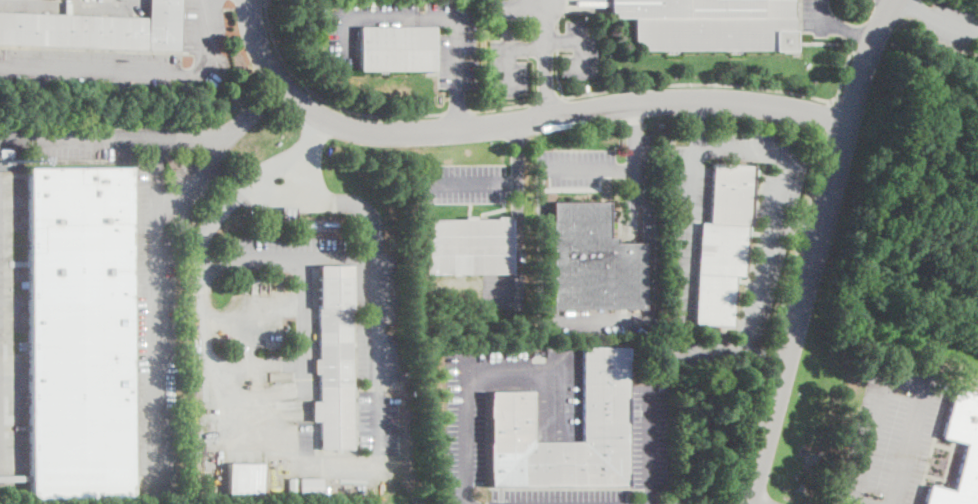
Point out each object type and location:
road: (97, 1)
road: (519, 7)
road: (913, 7)
building: (322, 13)
road: (417, 16)
road: (820, 16)
parking lot: (816, 17)
parking lot: (950, 23)
road: (953, 23)
building: (709, 24)
parking lot: (202, 25)
road: (847, 27)
building: (96, 29)
road: (855, 35)
road: (580, 39)
parking lot: (540, 43)
parking lot: (456, 45)
road: (526, 47)
road: (850, 48)
building: (396, 49)
parking lot: (89, 68)
road: (139, 70)
road: (556, 72)
road: (545, 82)
road: (699, 83)
road: (325, 99)
road: (546, 100)
road: (500, 106)
road: (455, 108)
road: (457, 111)
road: (251, 112)
road: (635, 116)
road: (831, 117)
road: (696, 121)
road: (513, 123)
road: (4, 139)
road: (82, 139)
road: (188, 139)
parking lot: (79, 149)
parking lot: (645, 161)
parking lot: (574, 167)
road: (608, 169)
parking lot: (690, 174)
road: (816, 175)
road: (191, 178)
parking lot: (463, 182)
road: (471, 182)
road: (244, 188)
road: (343, 202)
building: (288, 212)
building: (309, 225)
road: (796, 226)
road: (803, 226)
road: (516, 240)
building: (723, 244)
building: (469, 247)
road: (815, 249)
building: (592, 261)
road: (375, 265)
parking lot: (762, 286)
road: (786, 291)
parking lot: (162, 311)
road: (156, 314)
building: (79, 333)
road: (743, 340)
road: (763, 354)
parking lot: (376, 355)
road: (768, 356)
building: (333, 357)
road: (475, 365)
building: (402, 375)
road: (902, 376)
parking lot: (476, 409)
building: (510, 417)
parking lot: (648, 435)
road: (749, 435)
parking lot: (891, 435)
road: (647, 446)
building: (969, 464)
building: (243, 477)
building: (291, 484)
building: (309, 484)
parking lot: (556, 496)
road: (730, 503)
road: (854, 503)

